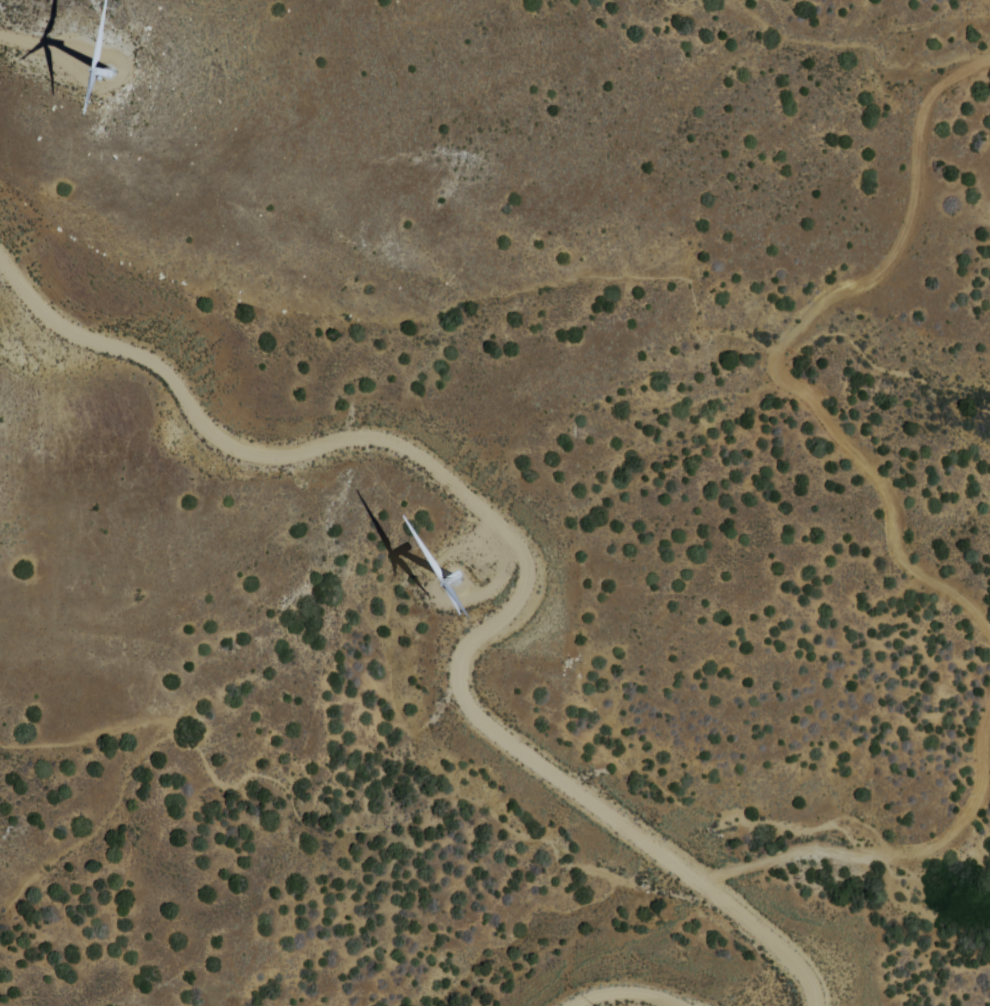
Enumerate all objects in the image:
wind turbine: (109, 51)
road: (790, 340)
road: (518, 549)
wind turbine: (465, 572)
road: (881, 854)
road: (623, 988)

